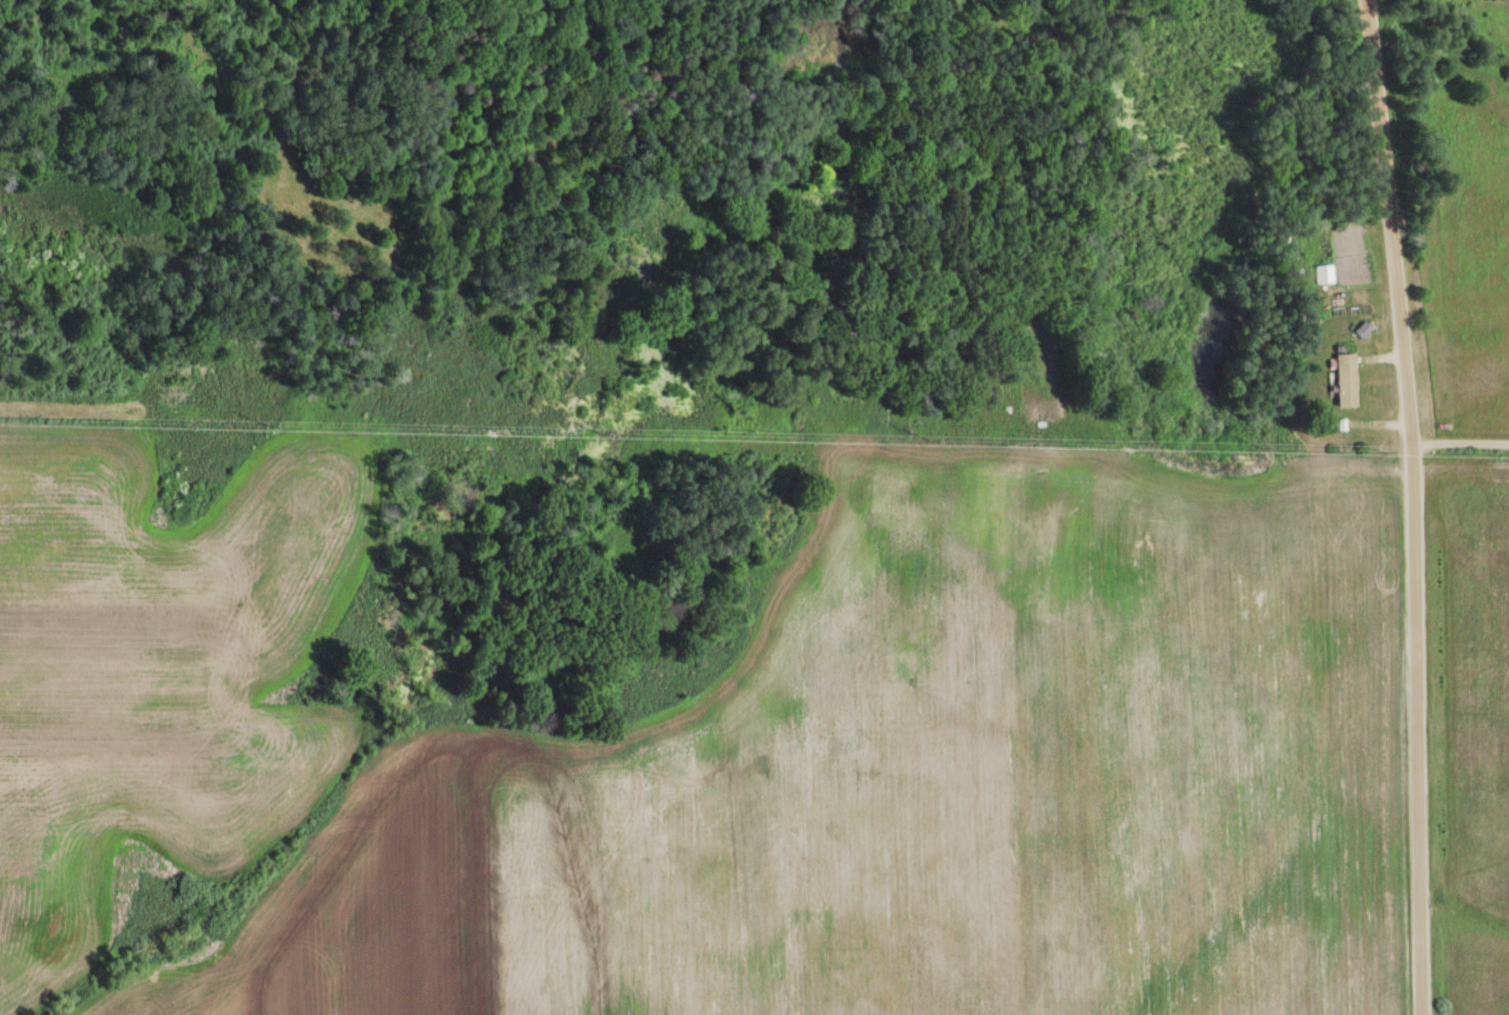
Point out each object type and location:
building: (1347, 381)
road: (1410, 506)

